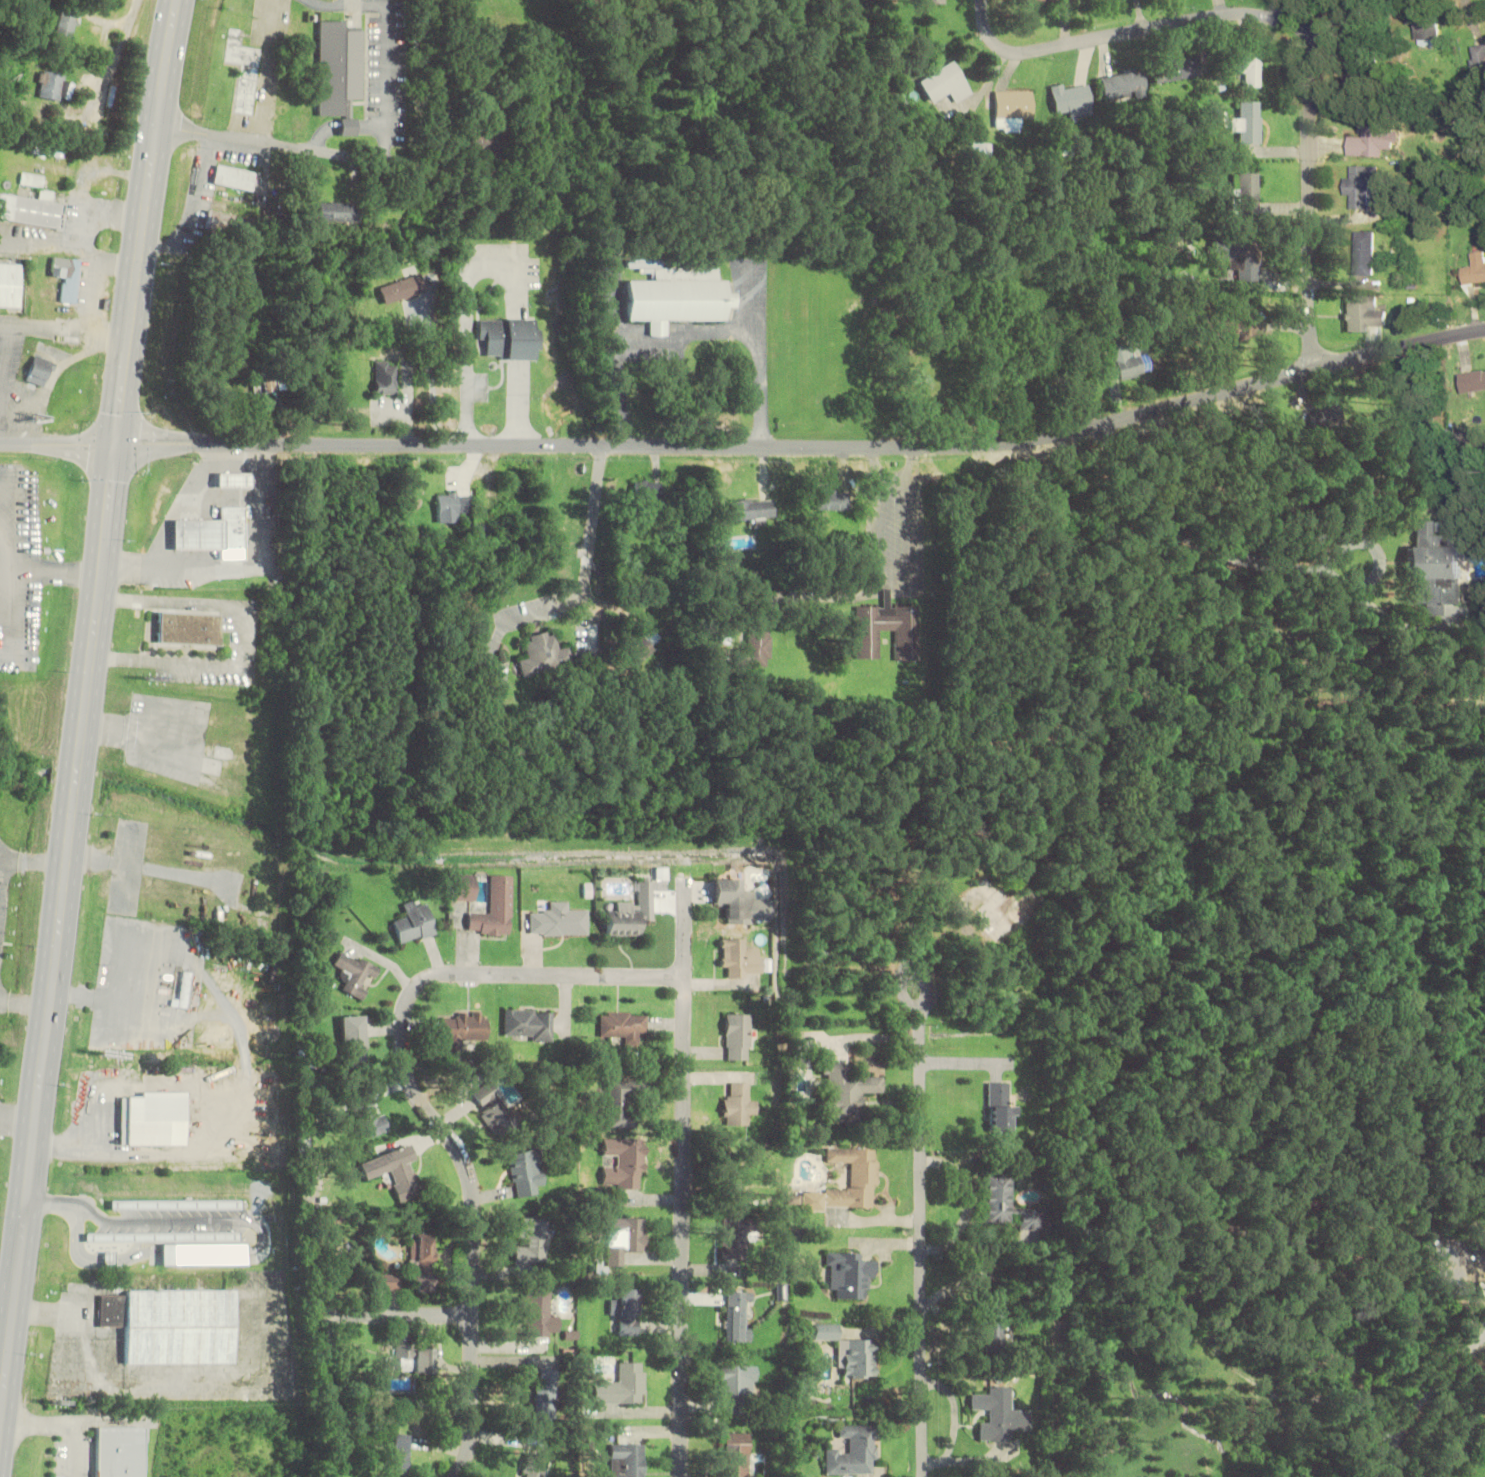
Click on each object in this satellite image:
building: (1049, 0)
building: (931, 1)
building: (68, 22)
building: (1426, 24)
road: (1133, 32)
building: (1478, 58)
building: (338, 67)
building: (1249, 67)
building: (1176, 69)
building: (1367, 72)
road: (106, 79)
building: (944, 83)
building: (1125, 85)
building: (52, 86)
building: (1074, 99)
building: (1011, 108)
building: (1248, 122)
building: (349, 126)
building: (1372, 138)
building: (980, 149)
road: (298, 150)
road: (1309, 170)
building: (234, 178)
building: (33, 180)
building: (1361, 185)
building: (1249, 193)
building: (32, 210)
building: (339, 212)
building: (216, 221)
building: (1364, 253)
building: (1239, 258)
building: (1474, 268)
building: (70, 278)
building: (10, 284)
building: (402, 289)
building: (674, 296)
building: (1363, 313)
building: (1237, 326)
building: (507, 338)
building: (1126, 362)
building: (40, 371)
building: (385, 377)
building: (1472, 381)
building: (280, 395)
building: (1327, 419)
traffic signals: (115, 444)
road: (749, 447)
building: (647, 490)
building: (831, 501)
building: (452, 506)
building: (752, 509)
building: (211, 531)
road: (1192, 536)
building: (1434, 572)
building: (229, 573)
building: (189, 628)
building: (906, 641)
building: (641, 645)
building: (756, 647)
building: (544, 654)
road: (84, 713)
building: (214, 756)
building: (463, 887)
building: (731, 895)
building: (495, 909)
building: (995, 912)
building: (631, 913)
building: (559, 921)
building: (414, 923)
building: (741, 960)
road: (911, 966)
building: (356, 973)
building: (185, 989)
building: (527, 1024)
building: (623, 1026)
building: (464, 1028)
building: (738, 1036)
building: (354, 1041)
building: (846, 1091)
road: (422, 1102)
building: (623, 1104)
building: (490, 1105)
building: (739, 1105)
building: (1001, 1107)
building: (368, 1115)
building: (154, 1119)
building: (743, 1161)
building: (622, 1163)
building: (395, 1171)
building: (527, 1172)
road: (683, 1178)
building: (854, 1178)
building: (998, 1199)
building: (176, 1205)
building: (148, 1237)
building: (736, 1237)
building: (624, 1238)
building: (532, 1240)
road: (922, 1247)
building: (203, 1254)
building: (107, 1259)
building: (422, 1262)
building: (849, 1274)
building: (386, 1282)
building: (112, 1310)
building: (628, 1311)
road: (398, 1314)
building: (538, 1315)
building: (738, 1316)
building: (992, 1322)
building: (179, 1326)
building: (849, 1351)
building: (417, 1360)
building: (623, 1385)
building: (734, 1390)
building: (546, 1397)
building: (999, 1415)
building: (852, 1451)
building: (120, 1452)
building: (397, 1453)
building: (735, 1454)
building: (627, 1460)
building: (533, 1465)

